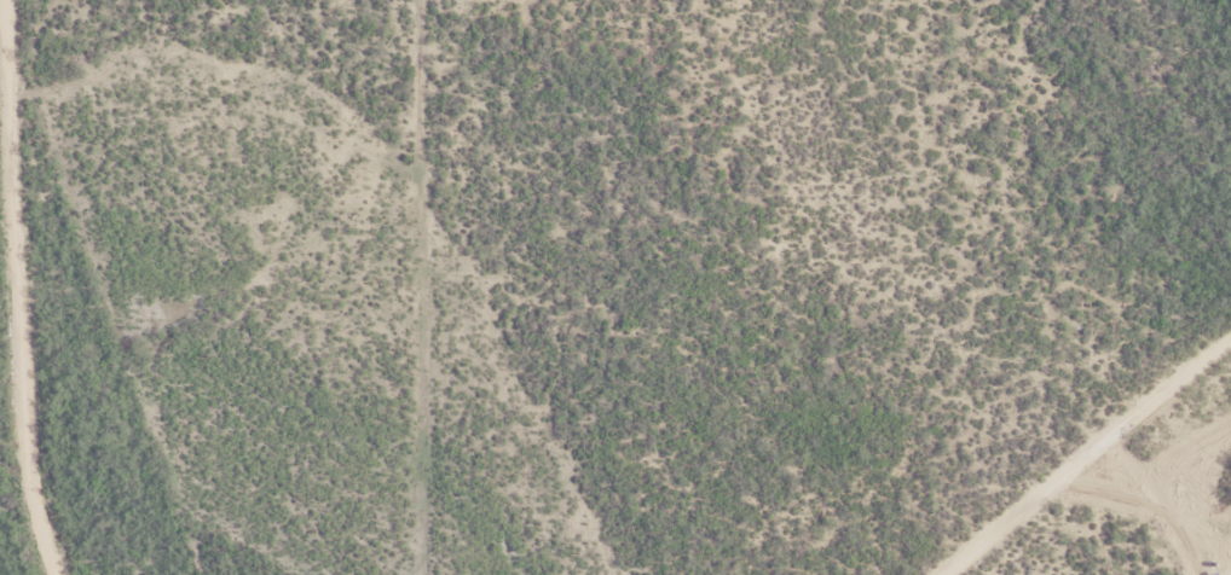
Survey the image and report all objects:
road: (21, 287)
road: (1083, 455)

